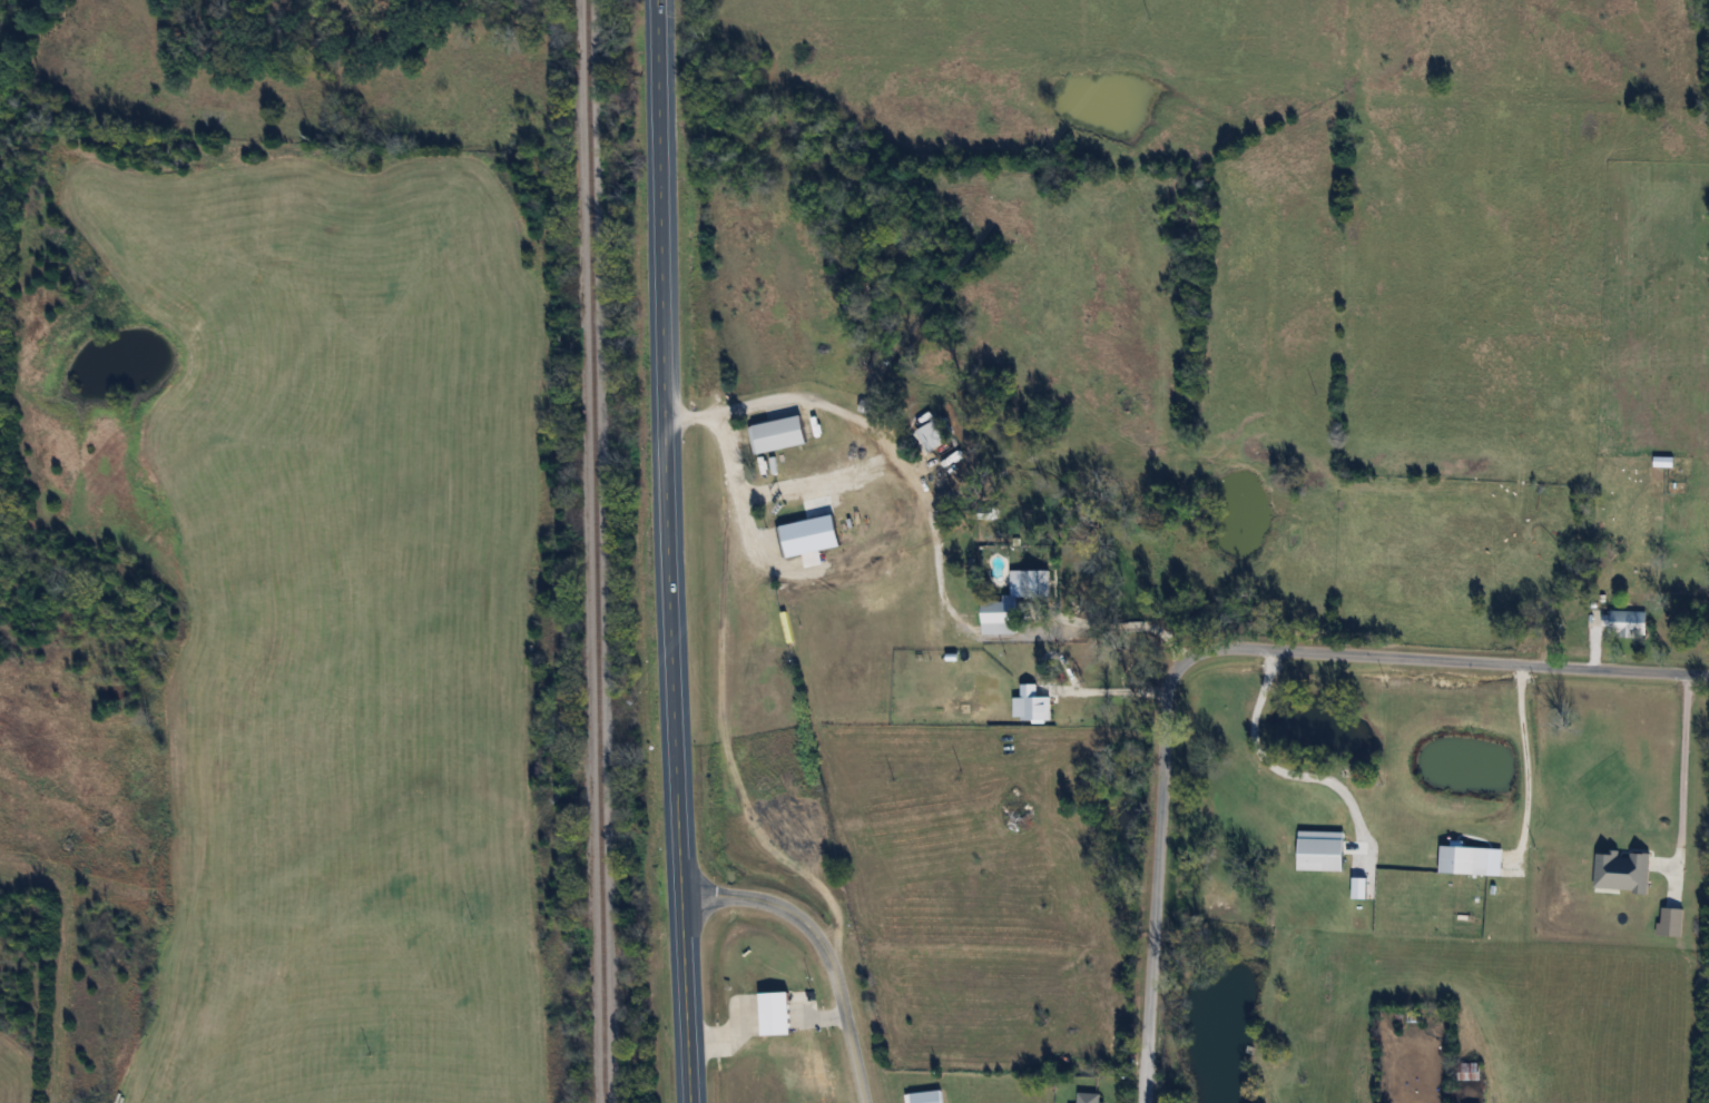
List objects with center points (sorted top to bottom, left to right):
road: (667, 452)
road: (934, 526)
railway: (596, 551)
building: (1629, 622)
road: (1220, 647)
road: (724, 722)
road: (1274, 765)
road: (1530, 765)
road: (1686, 777)
building: (1065, 791)
road: (823, 948)
road: (689, 1003)
building: (777, 1014)
building: (1471, 1071)
building: (925, 1097)

